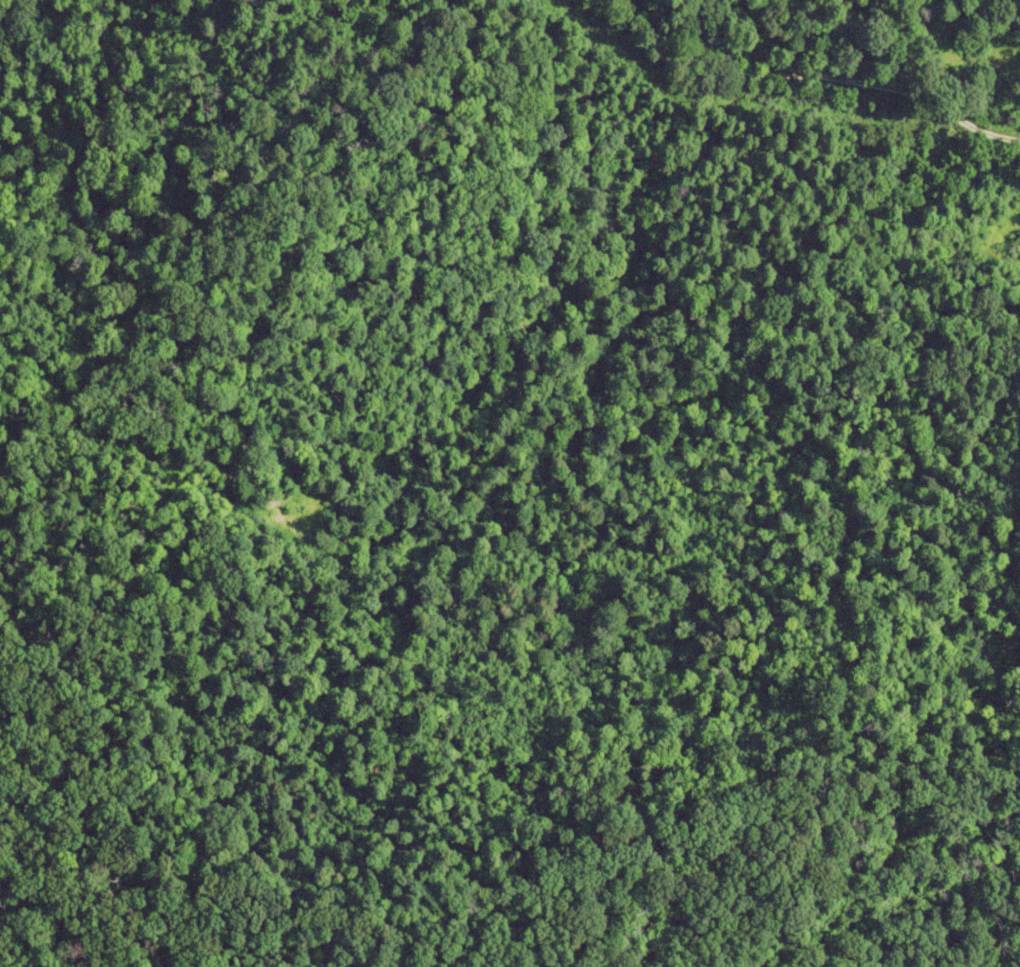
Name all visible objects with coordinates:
road: (819, 77)

